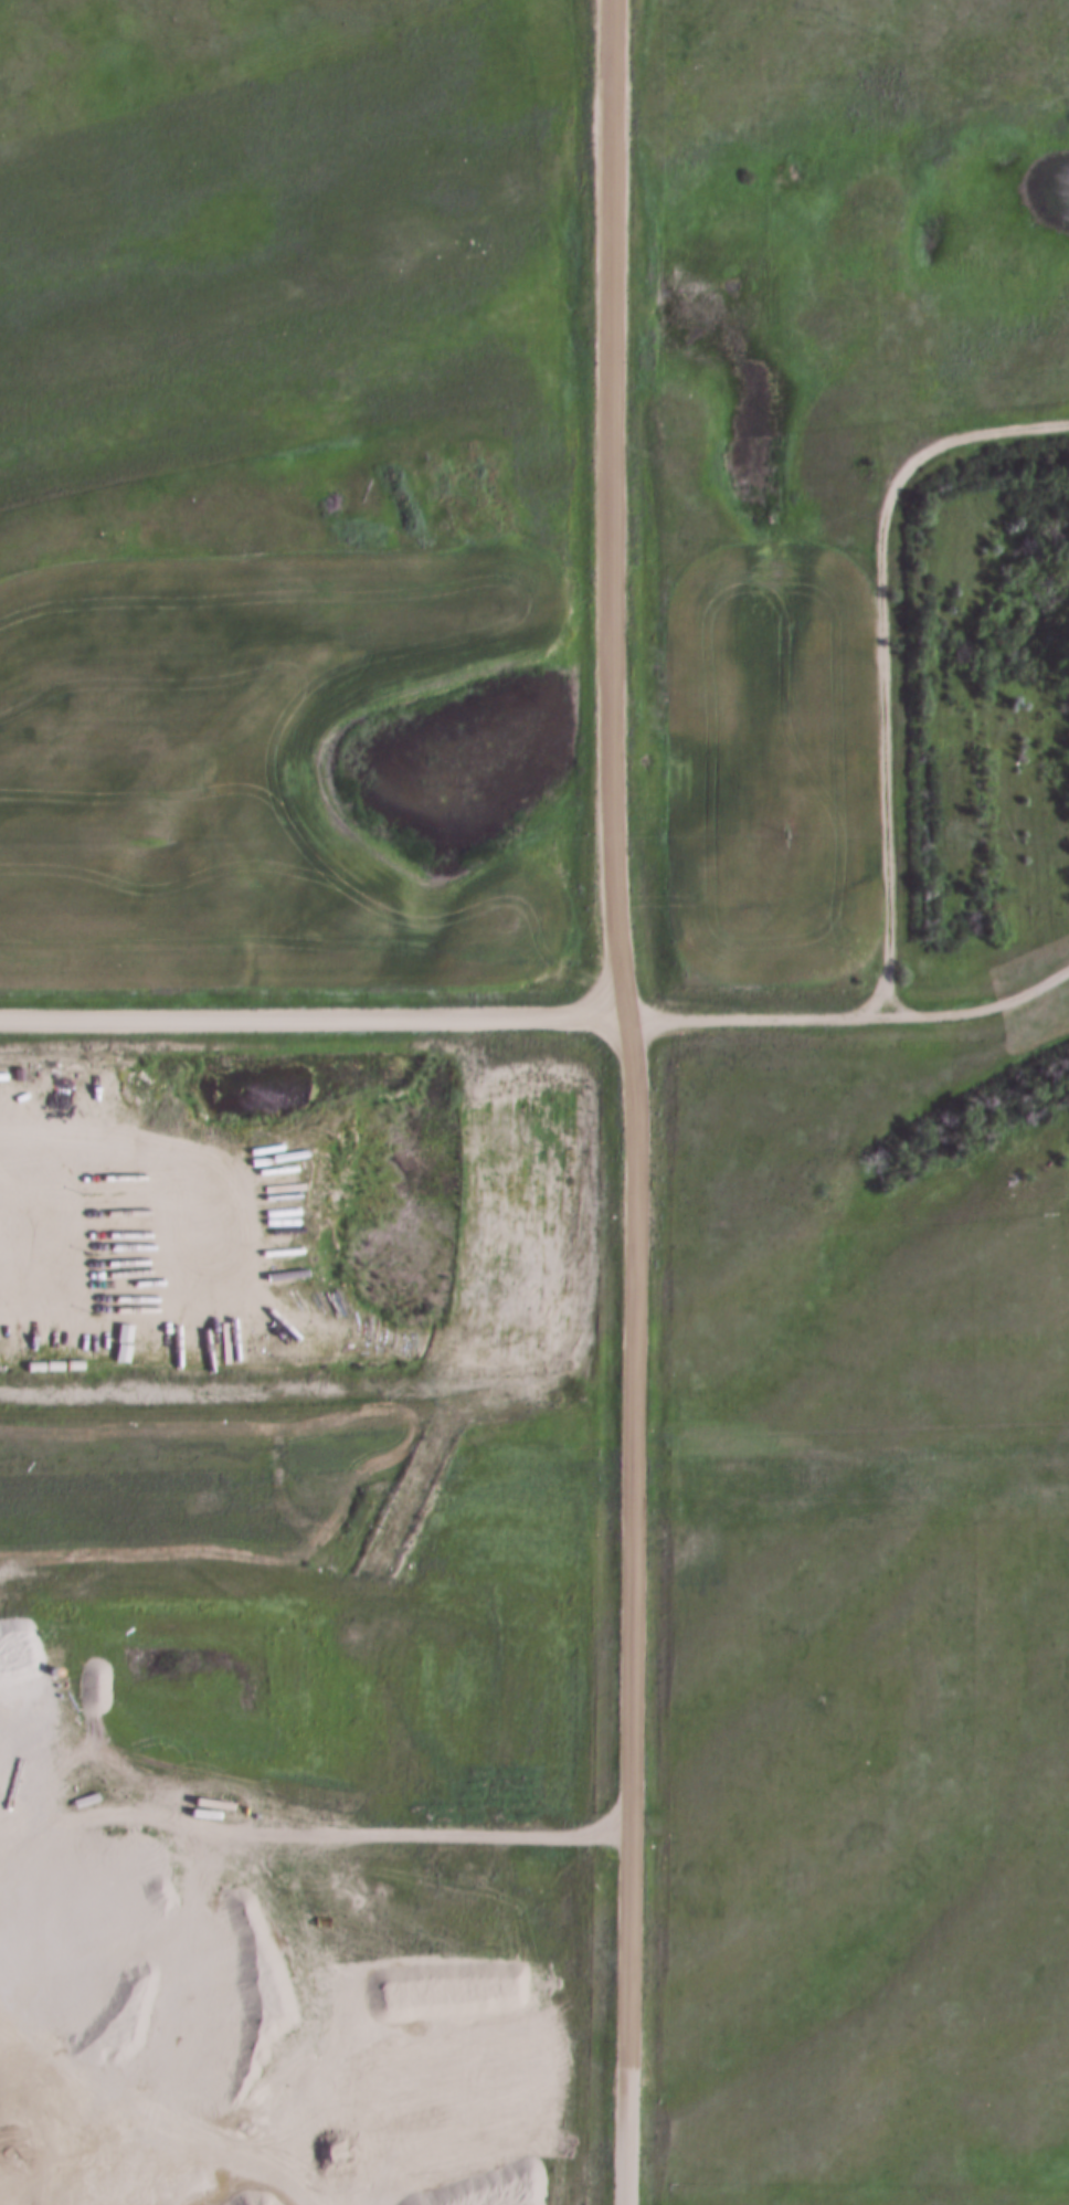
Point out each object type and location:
road: (881, 653)
road: (1051, 979)
road: (836, 1016)
road: (316, 1020)
road: (632, 1101)
quarry: (35, 1975)

